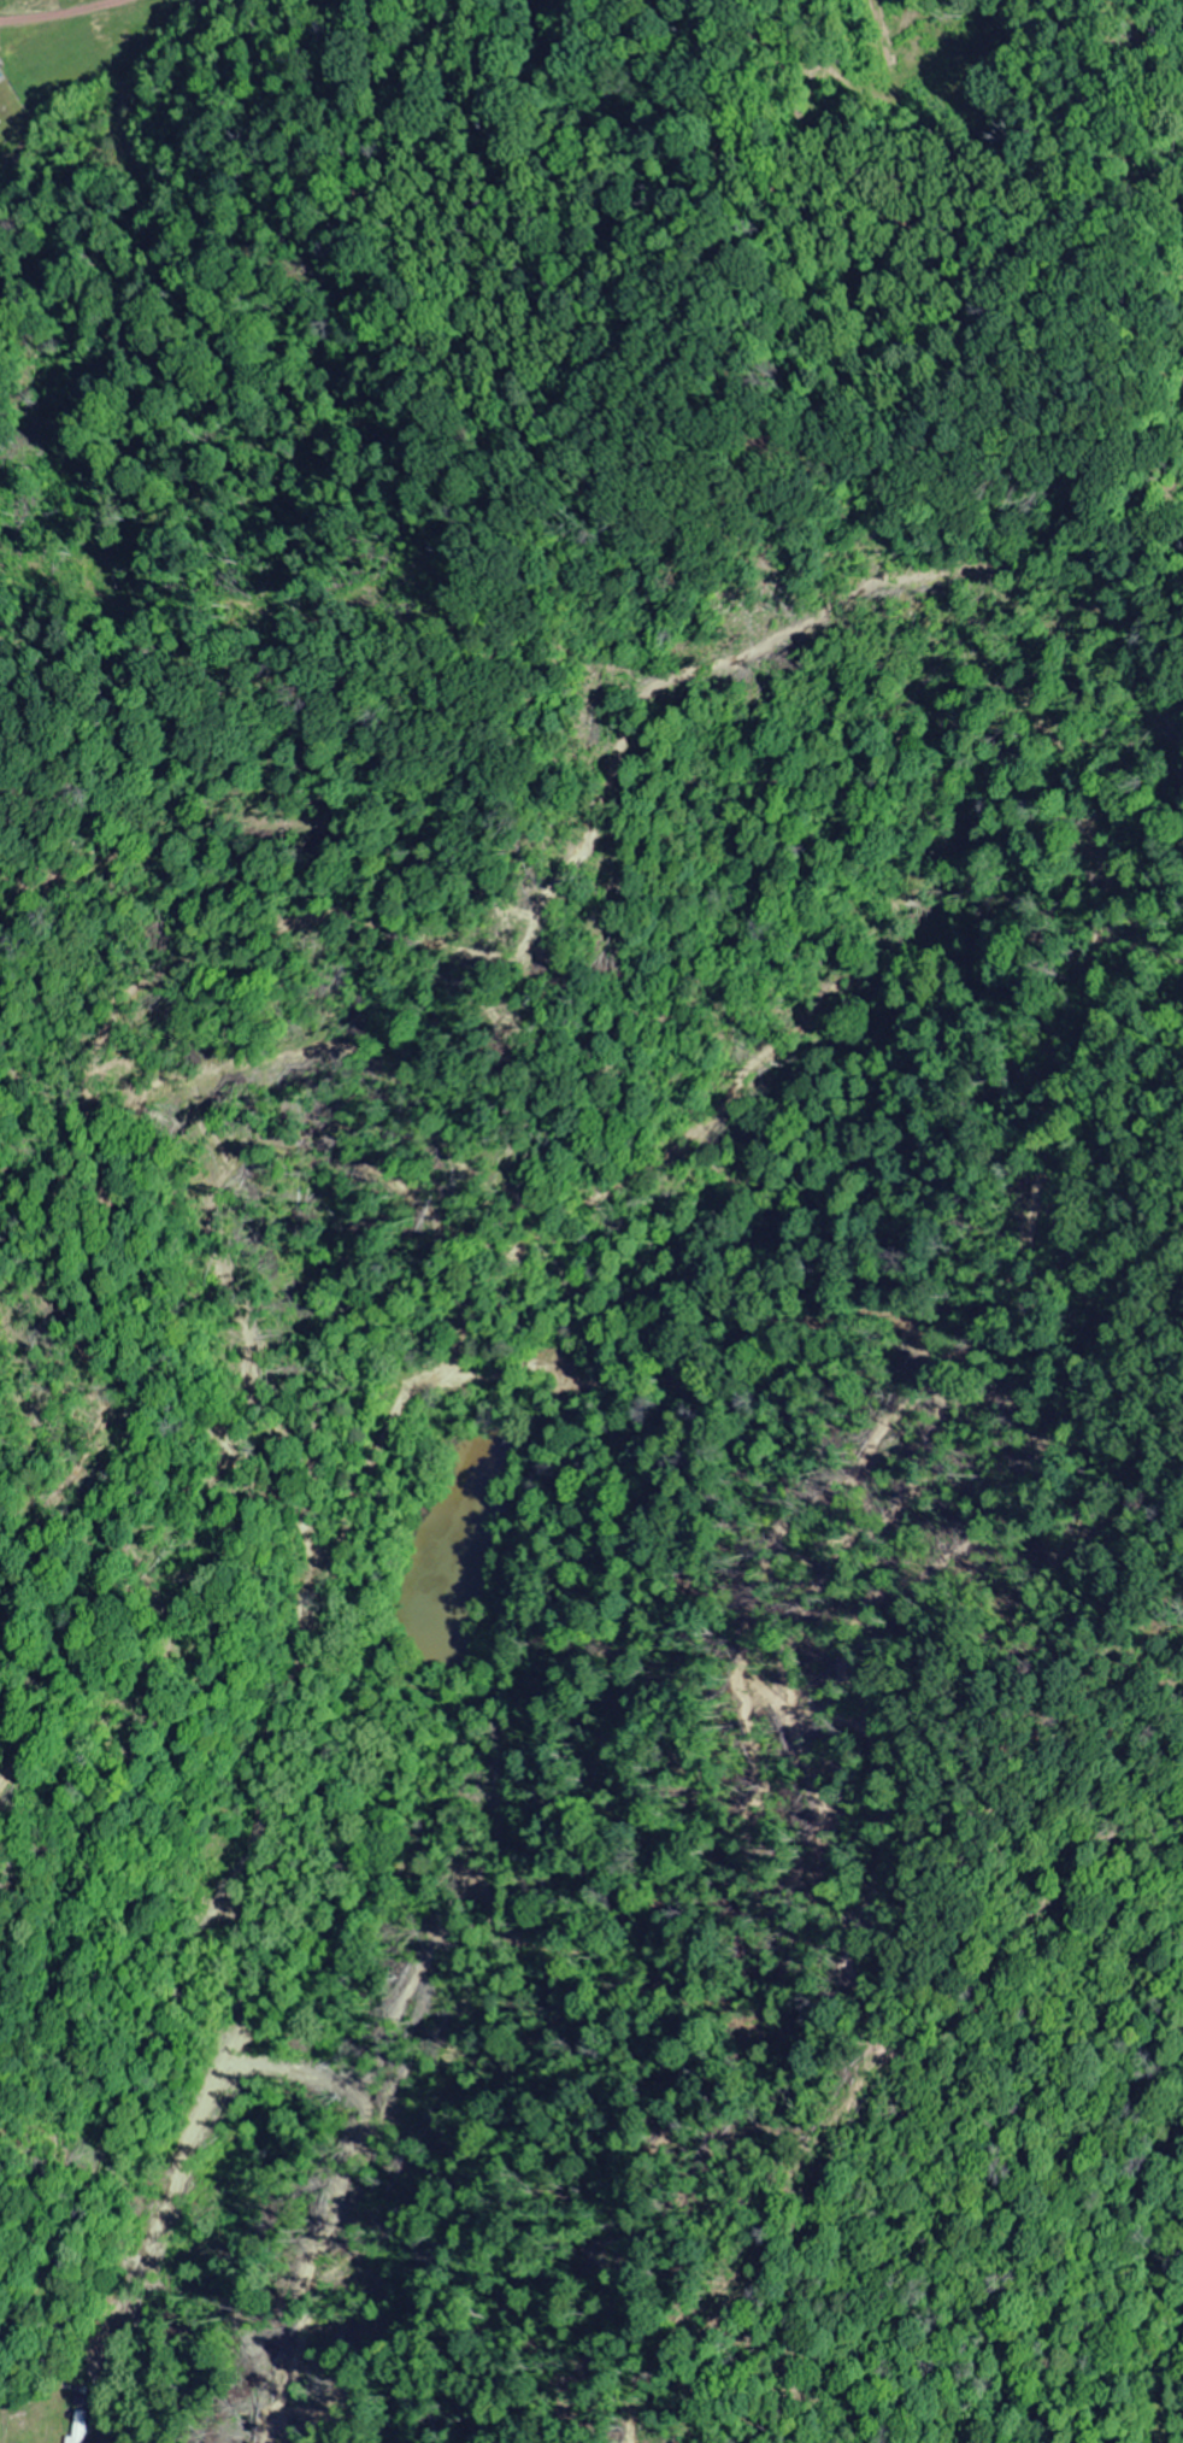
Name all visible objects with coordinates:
building: (1, 72)
building: (73, 2427)

